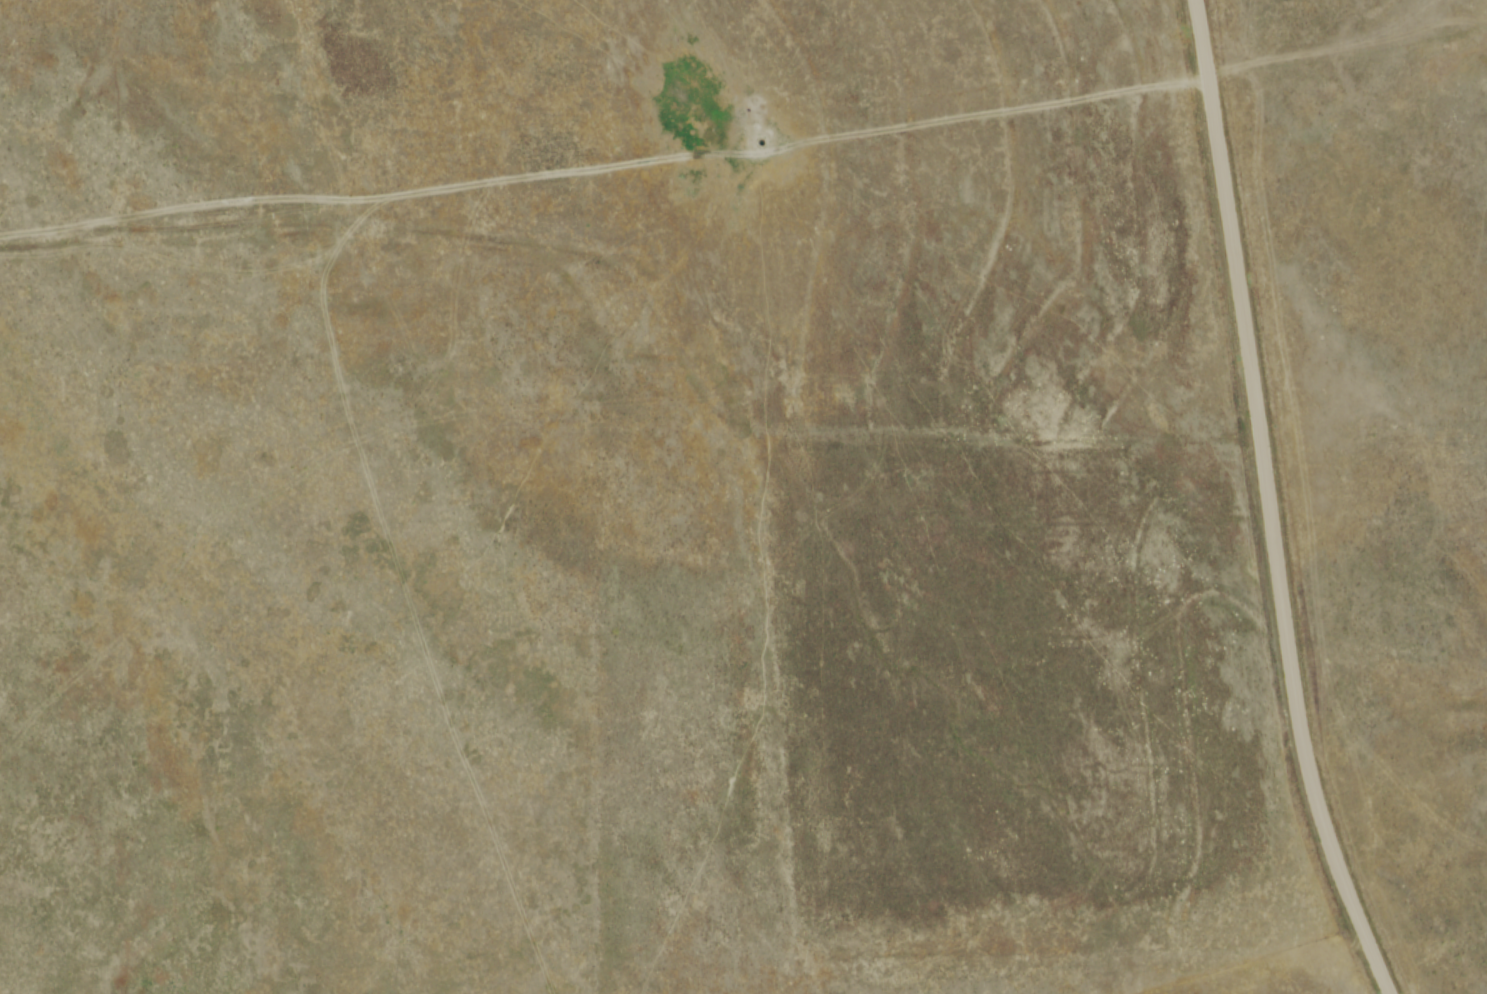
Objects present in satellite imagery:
road: (1272, 503)

